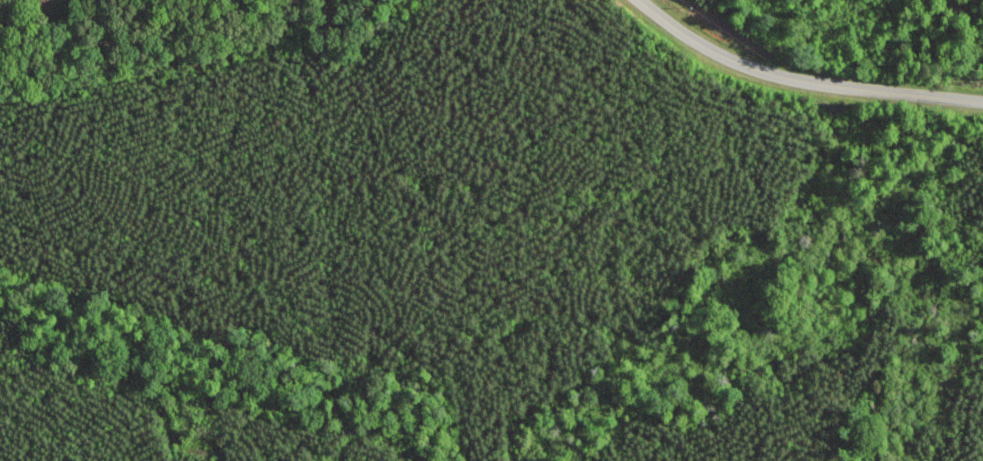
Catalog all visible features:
road: (800, 84)

